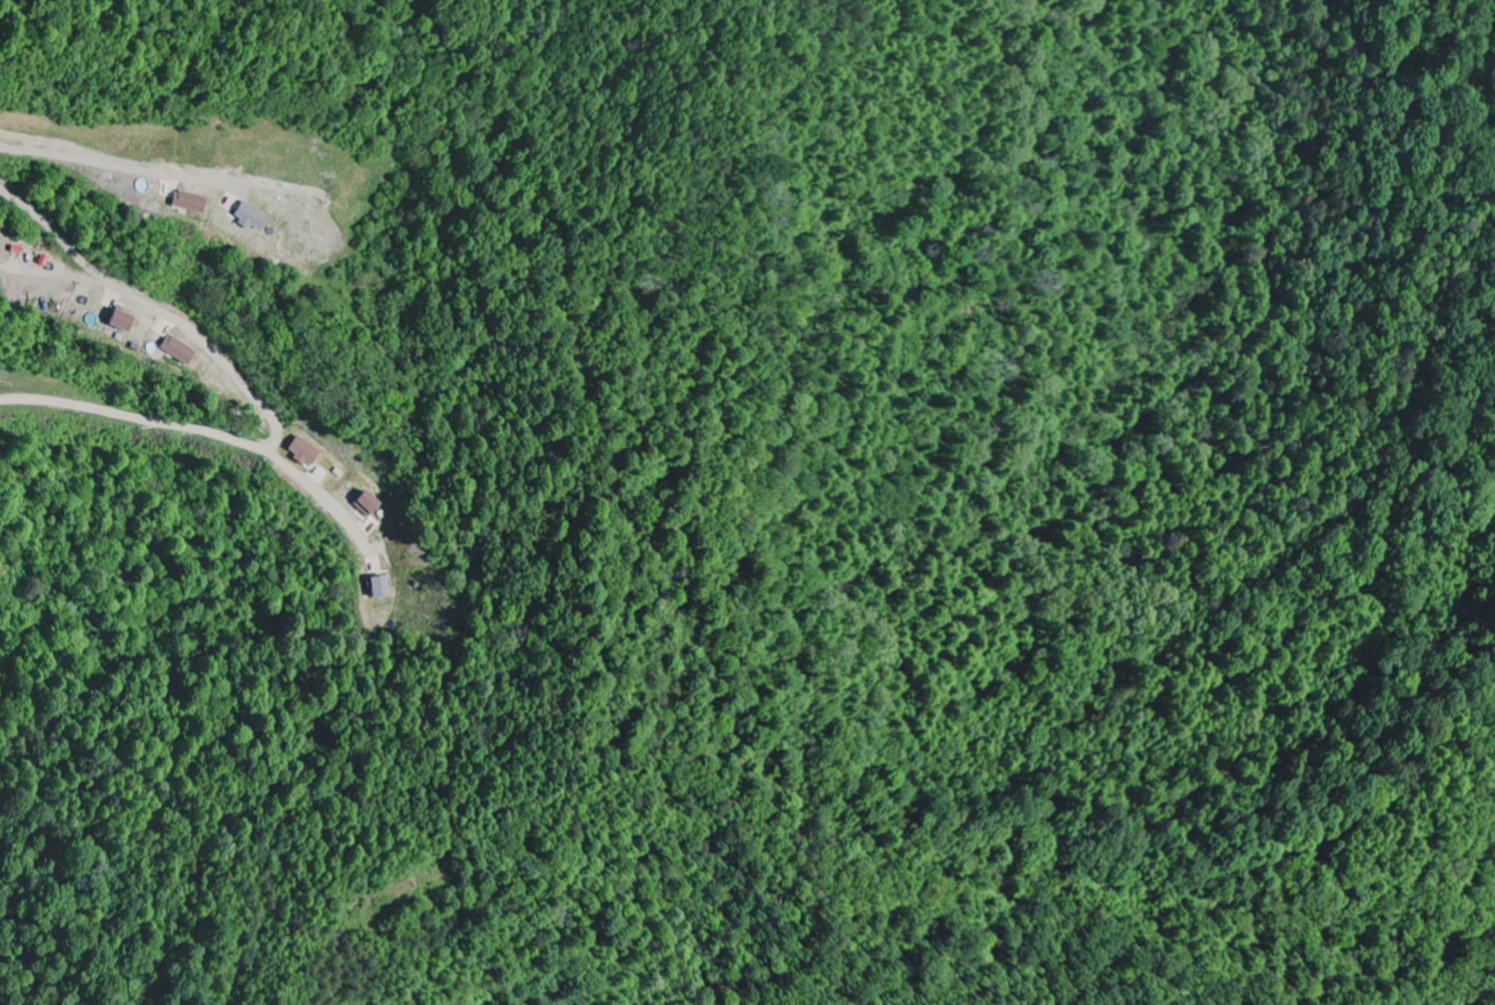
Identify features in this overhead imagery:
building: (189, 202)
building: (251, 217)
building: (121, 320)
building: (178, 350)
building: (305, 452)
building: (368, 505)
building: (380, 587)

